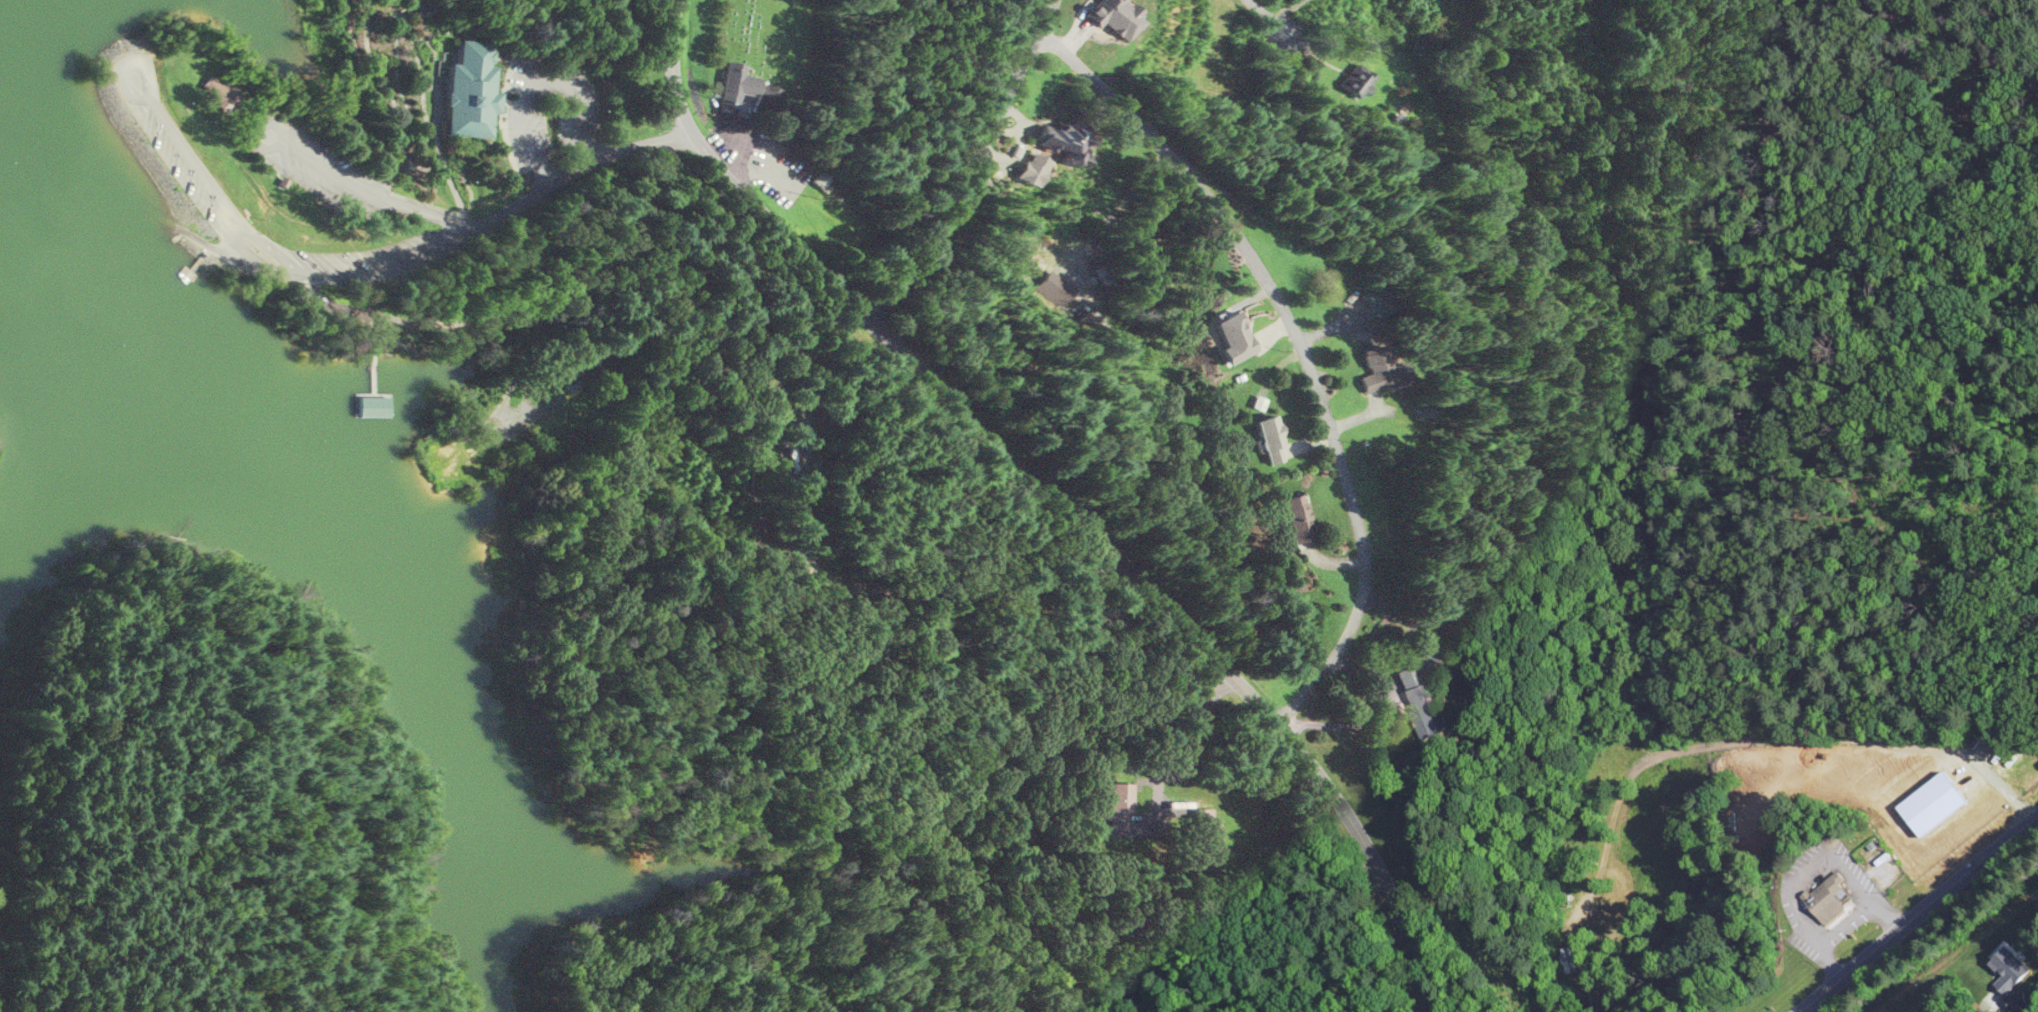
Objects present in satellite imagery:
road: (1268, 20)
road: (1044, 22)
road: (671, 66)
road: (539, 79)
building: (1360, 81)
building: (728, 85)
building: (466, 91)
building: (222, 93)
parking lot: (549, 113)
road: (176, 132)
building: (1055, 138)
road: (731, 150)
road: (609, 151)
road: (336, 174)
road: (506, 210)
road: (760, 212)
road: (1220, 212)
road: (184, 228)
road: (232, 253)
road: (371, 272)
building: (1373, 368)
building: (366, 405)
building: (1273, 439)
road: (805, 508)
building: (1297, 517)
road: (793, 595)
road: (195, 610)
road: (1176, 619)
building: (1413, 701)
road: (1861, 735)
road: (189, 737)
road: (1174, 741)
road: (858, 765)
building: (1121, 806)
road: (743, 826)
building: (1204, 827)
building: (1831, 899)
road: (1912, 907)
road: (1843, 924)
building: (1580, 960)
road: (838, 961)
building: (2001, 968)
road: (616, 980)

